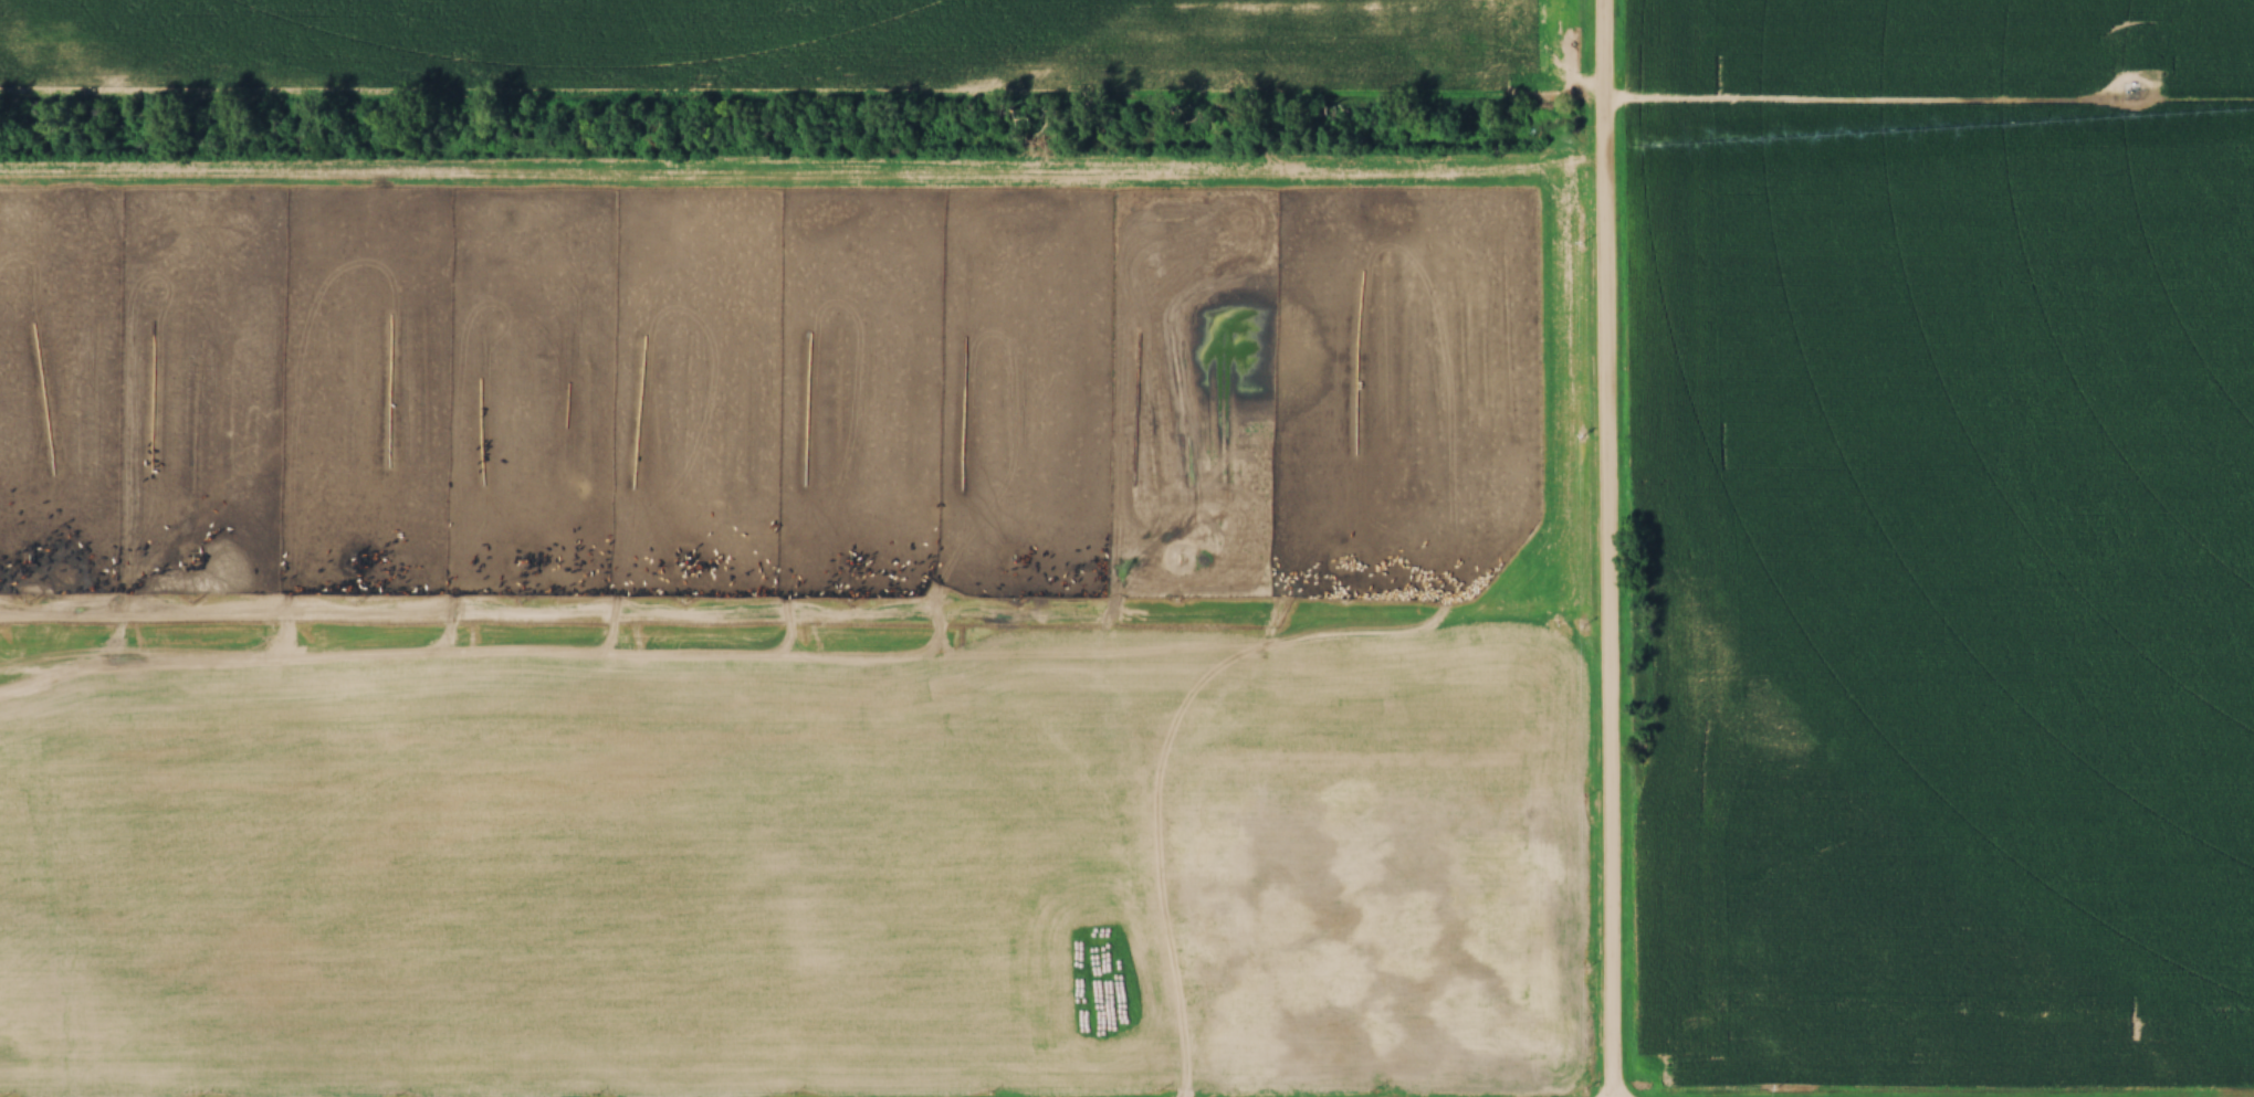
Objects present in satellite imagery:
road: (1611, 548)

